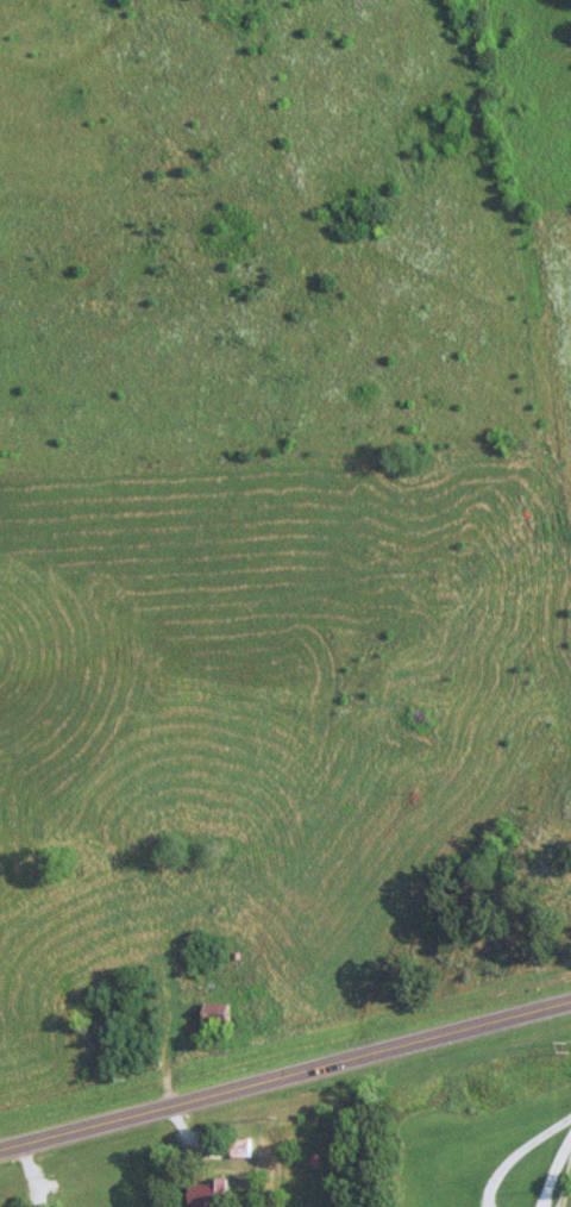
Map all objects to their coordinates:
building: (214, 1012)
road: (285, 1071)
building: (239, 1147)
building: (206, 1194)

